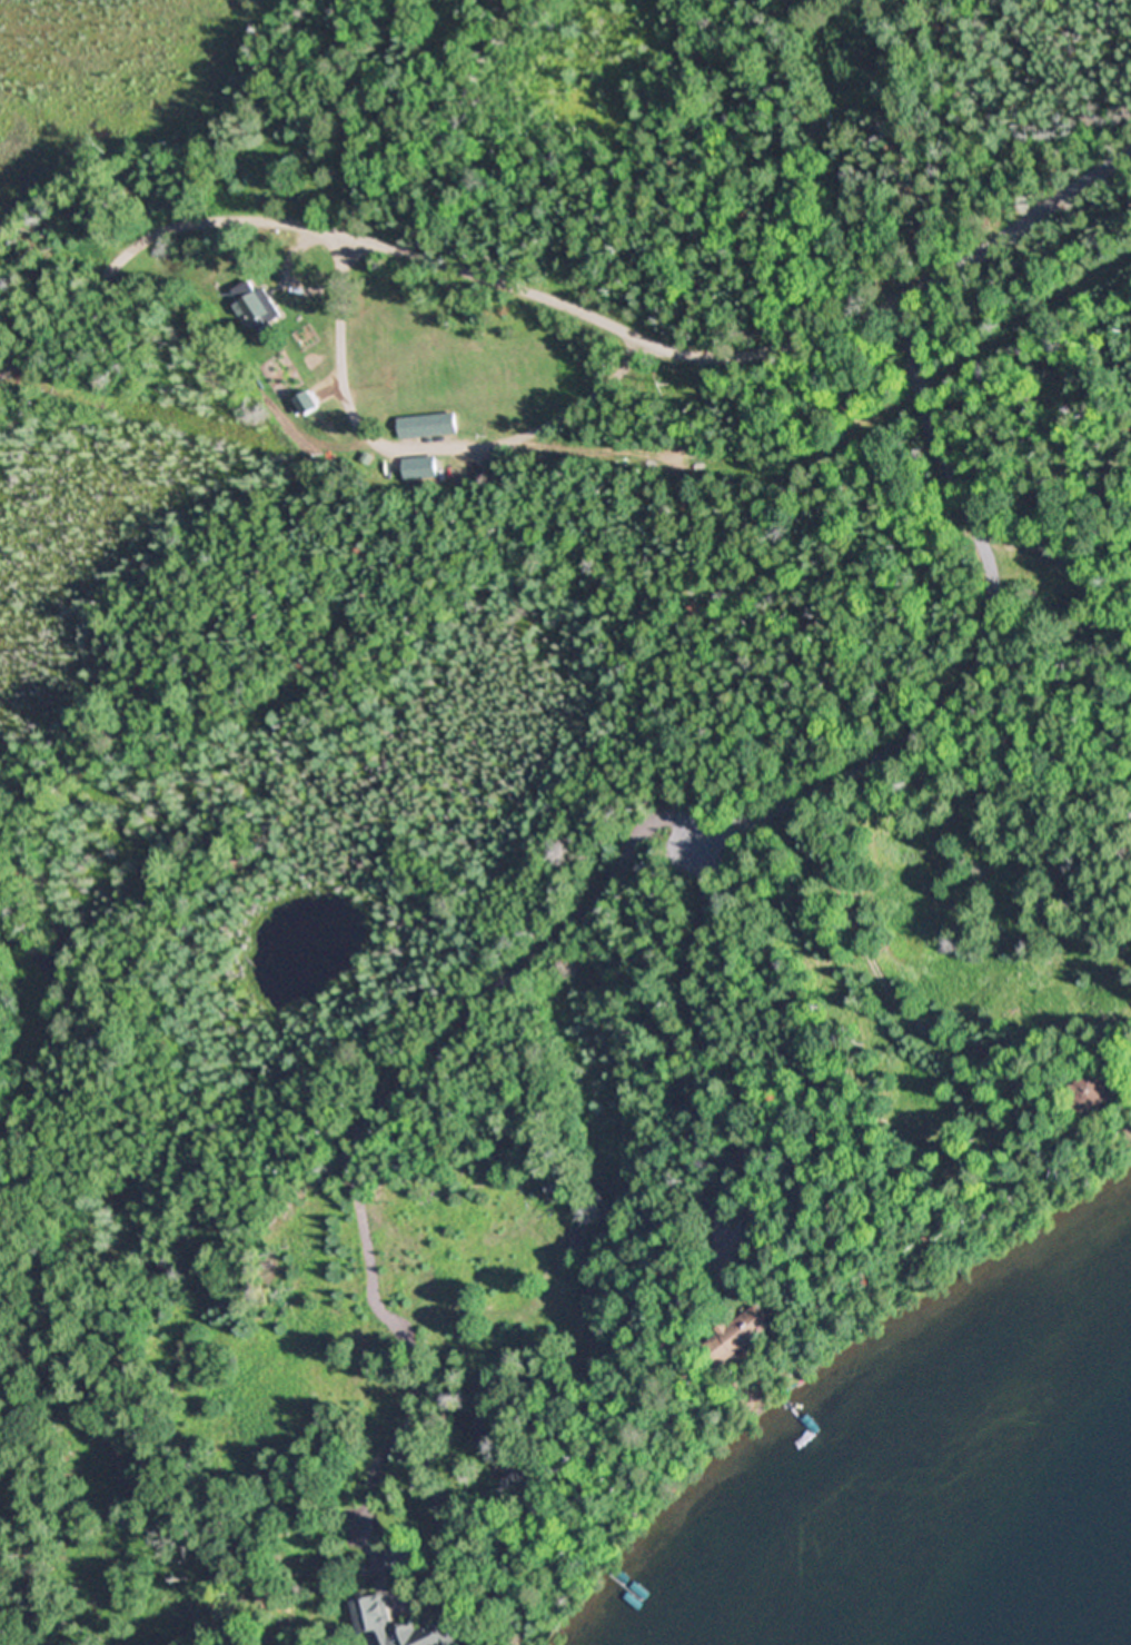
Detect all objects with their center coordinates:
road: (870, 267)
road: (559, 301)
building: (257, 306)
building: (307, 404)
building: (428, 426)
building: (419, 469)
road: (981, 646)
building: (1093, 1092)
building: (1005, 1097)
building: (1052, 1122)
building: (766, 1211)
building: (744, 1336)
building: (405, 1562)
building: (406, 1626)

